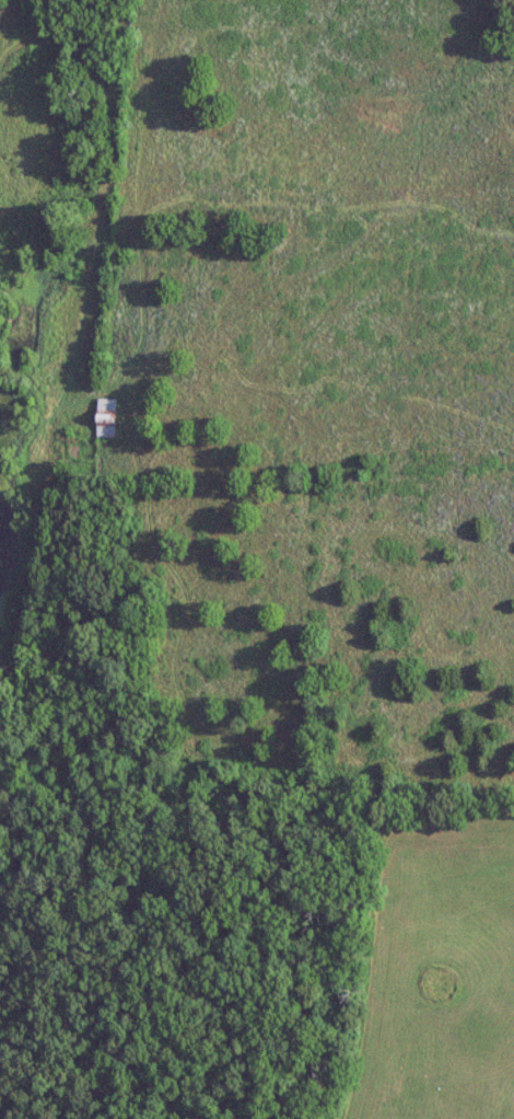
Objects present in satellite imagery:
building: (106, 419)

